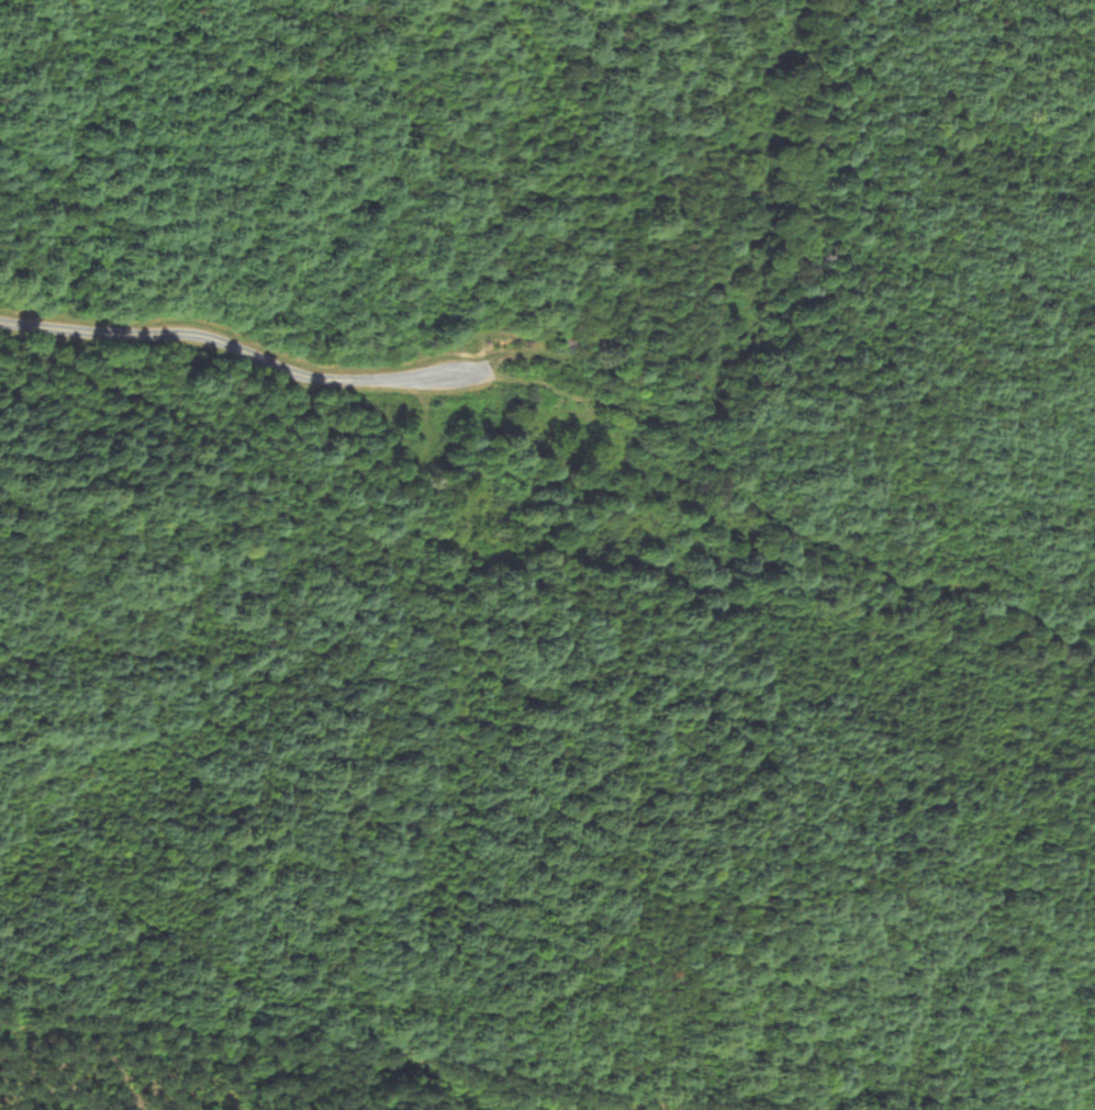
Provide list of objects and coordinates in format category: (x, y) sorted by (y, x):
road: (239, 346)
road: (783, 519)

